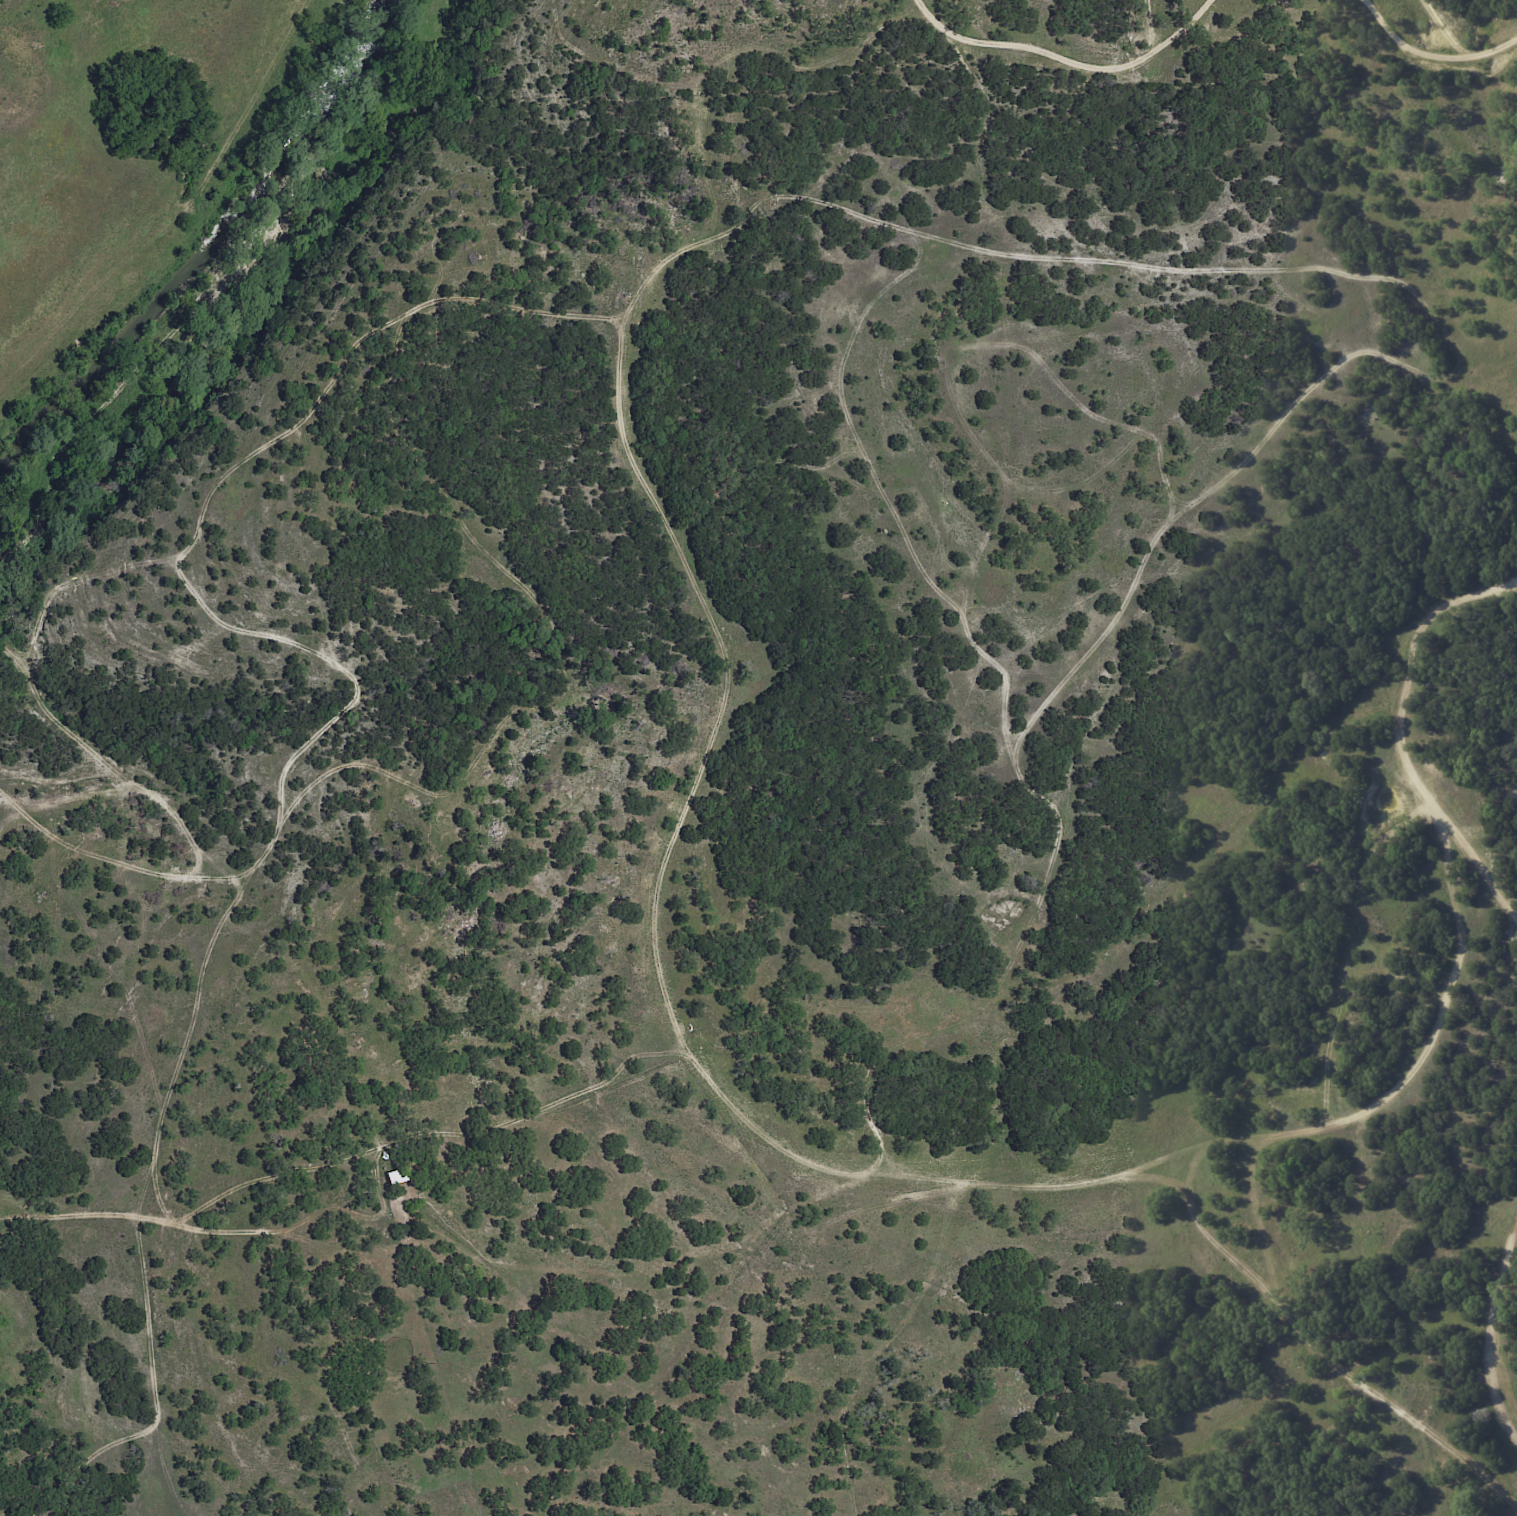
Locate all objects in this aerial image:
building: (394, 1176)

